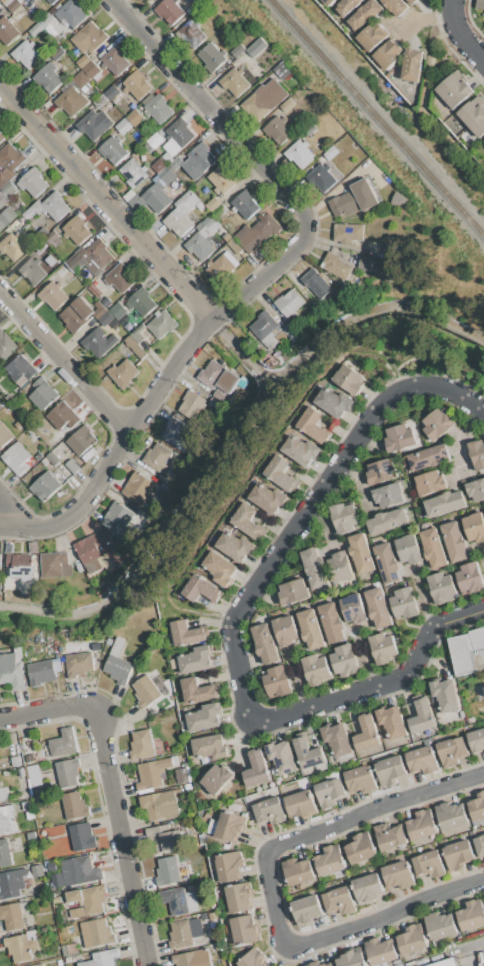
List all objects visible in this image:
building: (149, 0)
building: (51, 1)
building: (6, 2)
building: (328, 2)
building: (413, 2)
building: (480, 4)
building: (13, 6)
building: (397, 6)
building: (346, 7)
building: (169, 11)
building: (70, 13)
building: (365, 15)
building: (46, 20)
building: (36, 30)
building: (7, 31)
building: (191, 34)
building: (372, 36)
road: (458, 36)
building: (89, 38)
building: (255, 47)
building: (25, 53)
building: (388, 54)
building: (211, 56)
building: (83, 60)
building: (115, 60)
building: (412, 64)
building: (91, 69)
building: (282, 70)
building: (48, 77)
building: (81, 79)
building: (233, 82)
building: (136, 84)
building: (454, 89)
building: (111, 92)
building: (264, 99)
building: (71, 101)
building: (287, 105)
building: (157, 107)
road: (210, 110)
building: (474, 116)
building: (134, 117)
railway: (377, 117)
building: (95, 124)
building: (123, 126)
building: (277, 130)
building: (180, 132)
building: (1, 137)
building: (155, 140)
building: (483, 141)
building: (114, 150)
building: (300, 153)
building: (330, 153)
building: (10, 160)
building: (198, 160)
building: (159, 165)
building: (176, 165)
building: (134, 173)
building: (165, 173)
building: (321, 178)
building: (222, 179)
building: (3, 180)
building: (32, 182)
building: (9, 189)
building: (157, 197)
building: (397, 198)
building: (354, 199)
building: (2, 200)
road: (107, 202)
building: (213, 204)
building: (245, 204)
building: (53, 206)
building: (31, 209)
building: (181, 215)
building: (209, 221)
building: (1, 226)
building: (77, 230)
building: (205, 232)
building: (347, 233)
building: (258, 234)
building: (199, 246)
building: (235, 246)
building: (10, 247)
building: (99, 253)
building: (76, 258)
building: (51, 259)
building: (365, 263)
building: (224, 265)
building: (336, 265)
building: (62, 270)
building: (32, 271)
road: (265, 275)
building: (119, 278)
building: (316, 282)
building: (95, 286)
building: (53, 295)
building: (141, 302)
building: (289, 303)
building: (118, 310)
building: (81, 313)
building: (105, 318)
building: (162, 323)
building: (265, 325)
building: (293, 327)
building: (287, 333)
road: (475, 334)
building: (137, 336)
building: (98, 341)
building: (5, 346)
building: (135, 346)
road: (246, 353)
road: (63, 361)
building: (19, 369)
building: (123, 373)
building: (218, 376)
building: (349, 379)
building: (42, 394)
building: (334, 402)
building: (192, 404)
building: (61, 415)
building: (438, 423)
building: (314, 425)
building: (177, 434)
road: (276, 434)
building: (4, 435)
building: (400, 437)
building: (82, 440)
road: (118, 446)
building: (301, 450)
road: (227, 453)
building: (477, 453)
building: (157, 457)
building: (428, 457)
building: (16, 458)
building: (52, 458)
building: (72, 466)
building: (65, 471)
building: (381, 471)
building: (280, 474)
building: (165, 478)
building: (431, 482)
building: (45, 486)
building: (138, 488)
building: (476, 489)
building: (388, 496)
building: (268, 498)
building: (445, 503)
building: (155, 513)
building: (344, 517)
road: (3, 518)
building: (119, 520)
building: (247, 521)
building: (388, 521)
building: (474, 526)
building: (455, 540)
building: (33, 547)
building: (236, 547)
building: (433, 547)
building: (408, 549)
building: (101, 552)
building: (362, 553)
building: (0, 560)
building: (387, 563)
building: (55, 564)
building: (21, 567)
building: (339, 567)
building: (221, 568)
building: (315, 568)
building: (470, 579)
building: (441, 587)
building: (201, 589)
building: (293, 591)
building: (404, 603)
building: (354, 608)
building: (379, 608)
road: (238, 619)
building: (332, 622)
building: (311, 629)
building: (286, 630)
building: (187, 633)
building: (266, 644)
building: (97, 646)
building: (383, 648)
building: (465, 650)
building: (78, 658)
building: (196, 660)
building: (345, 660)
building: (118, 664)
building: (14, 669)
building: (316, 669)
building: (41, 671)
building: (277, 681)
building: (145, 691)
building: (197, 691)
building: (445, 694)
road: (51, 708)
building: (421, 715)
building: (205, 718)
building: (392, 721)
building: (367, 732)
building: (336, 739)
building: (476, 740)
building: (63, 745)
building: (142, 745)
building: (210, 747)
building: (452, 751)
building: (308, 753)
building: (281, 756)
building: (423, 760)
building: (257, 769)
building: (390, 770)
building: (152, 773)
building: (67, 774)
building: (33, 775)
building: (183, 776)
building: (216, 779)
building: (361, 779)
building: (330, 792)
building: (3, 793)
building: (162, 804)
building: (301, 804)
building: (72, 805)
building: (477, 807)
building: (269, 810)
building: (451, 815)
building: (7, 819)
building: (422, 825)
building: (227, 826)
building: (31, 835)
building: (81, 836)
building: (389, 836)
road: (120, 837)
building: (173, 838)
building: (480, 846)
building: (360, 848)
building: (5, 853)
building: (458, 854)
building: (331, 860)
building: (429, 864)
building: (230, 865)
building: (38, 870)
building: (80, 870)
building: (167, 870)
building: (298, 871)
building: (399, 875)
building: (12, 883)
road: (272, 888)
building: (367, 888)
building: (239, 897)
building: (90, 898)
building: (57, 899)
building: (178, 900)
building: (340, 901)
building: (23, 905)
building: (307, 909)
building: (76, 912)
building: (472, 914)
building: (12, 916)
building: (440, 925)
building: (244, 929)
building: (101, 932)
building: (183, 934)
building: (413, 940)
road: (473, 942)
building: (20, 947)
building: (69, 949)
building: (381, 951)
building: (102, 958)
building: (192, 958)
building: (253, 958)
building: (352, 959)
building: (318, 963)
building: (446, 963)
building: (38, 965)

